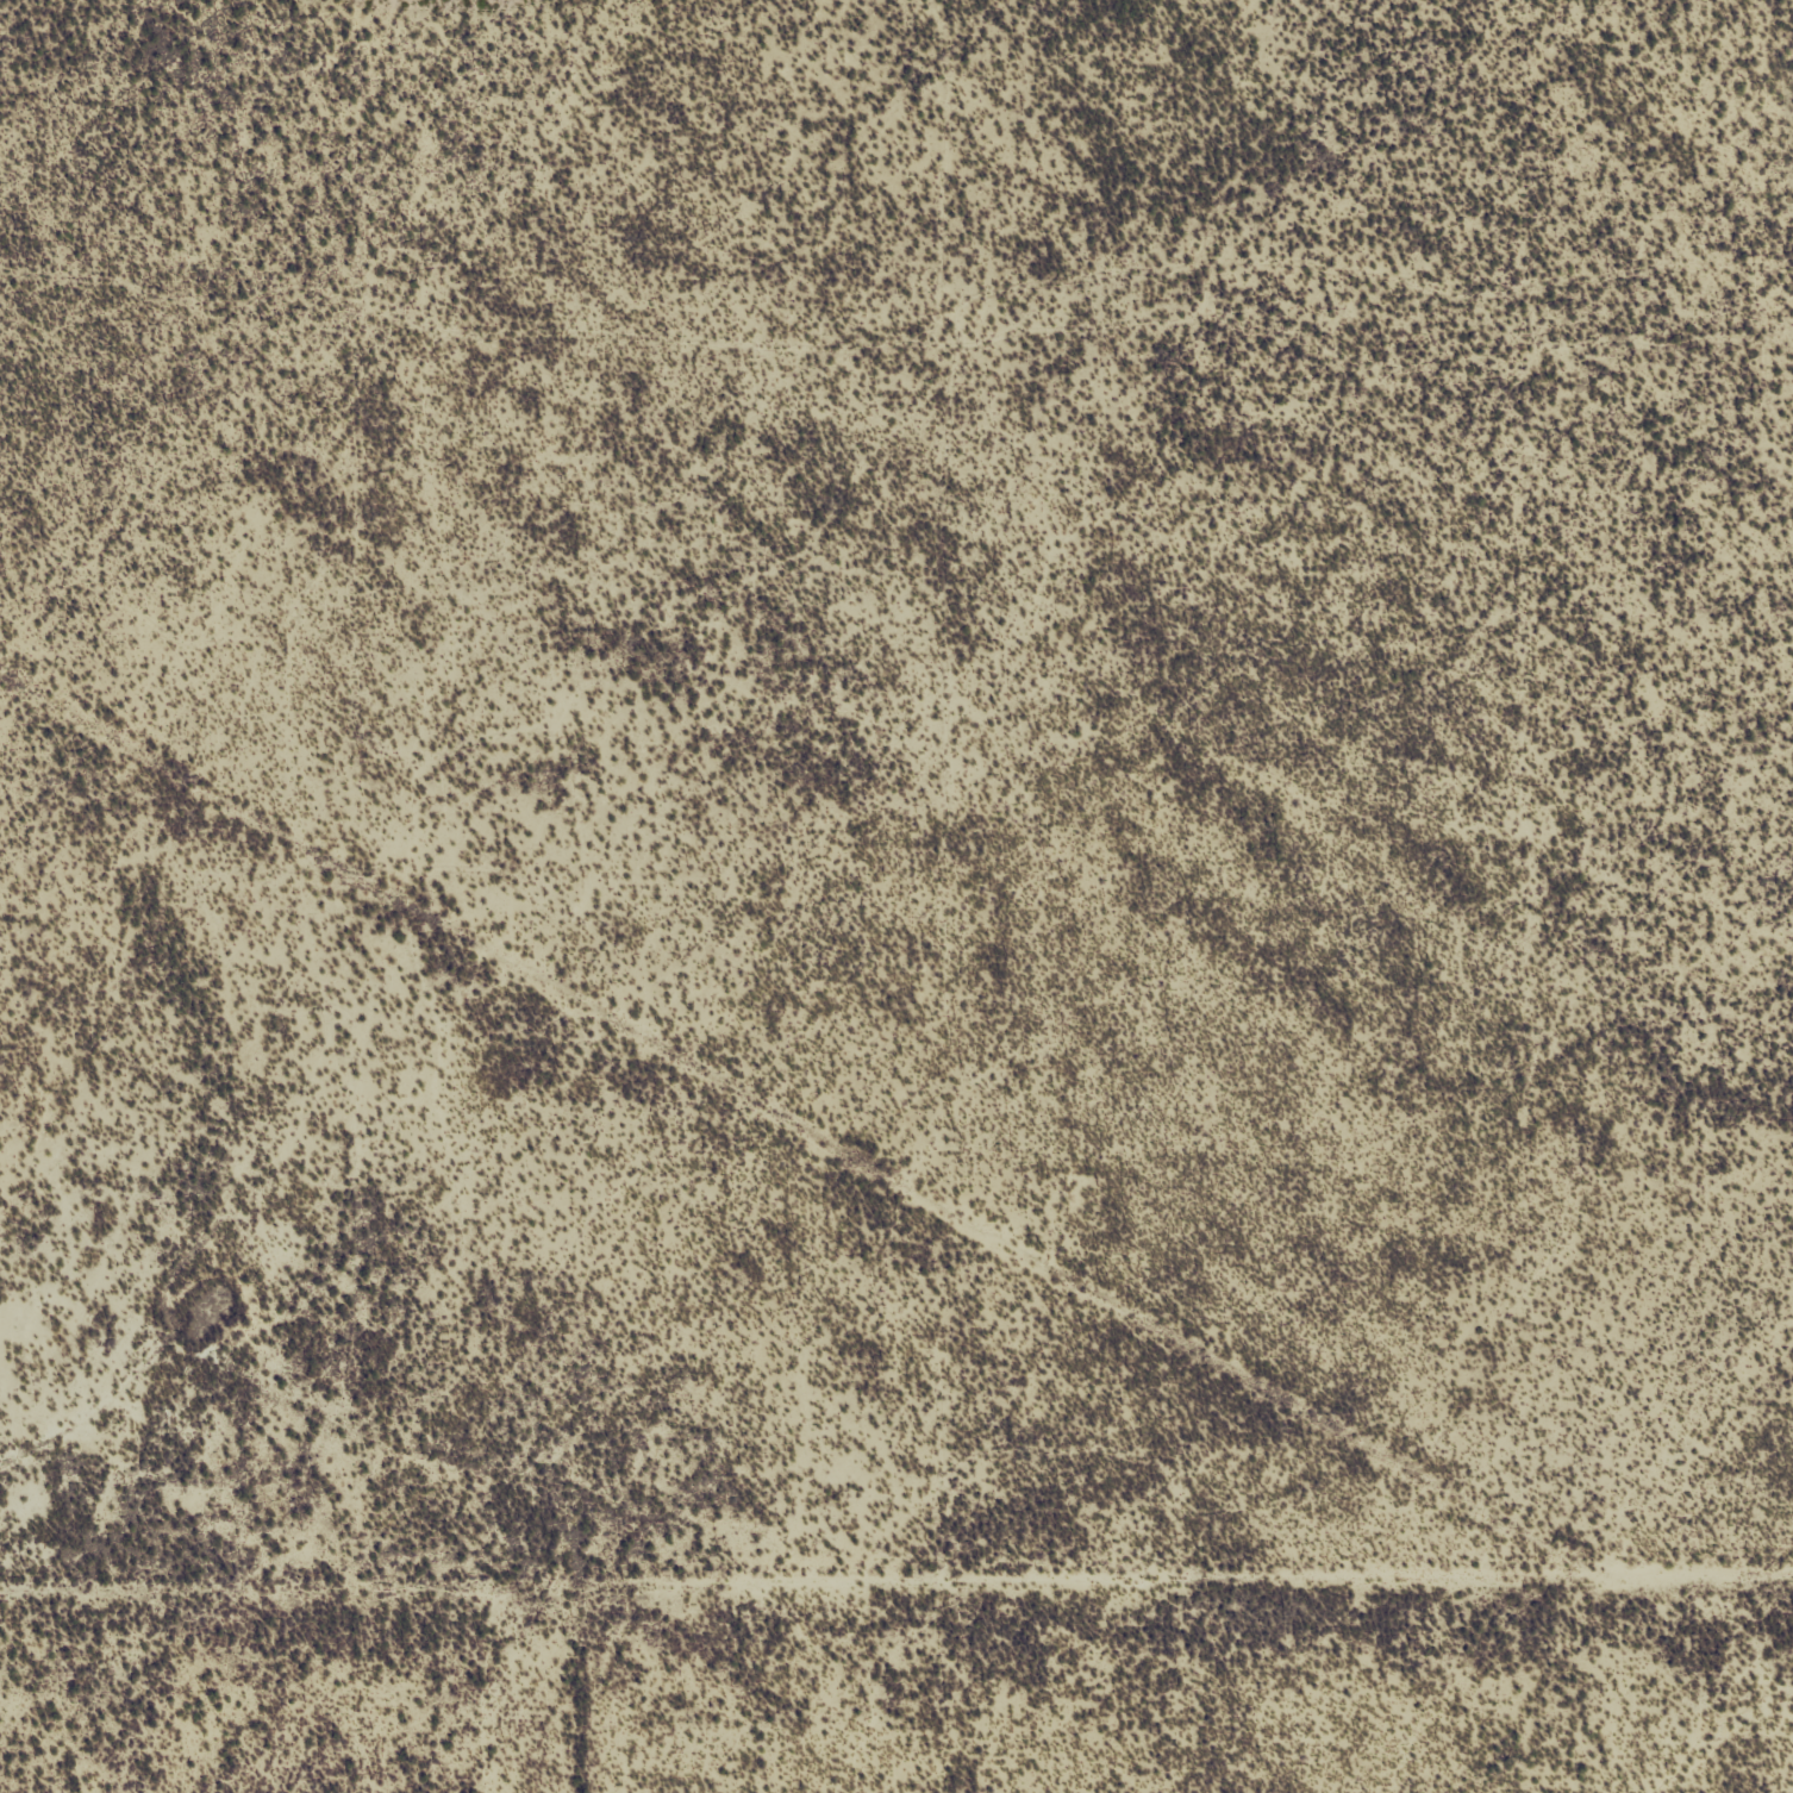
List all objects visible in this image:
road: (570, 1522)

